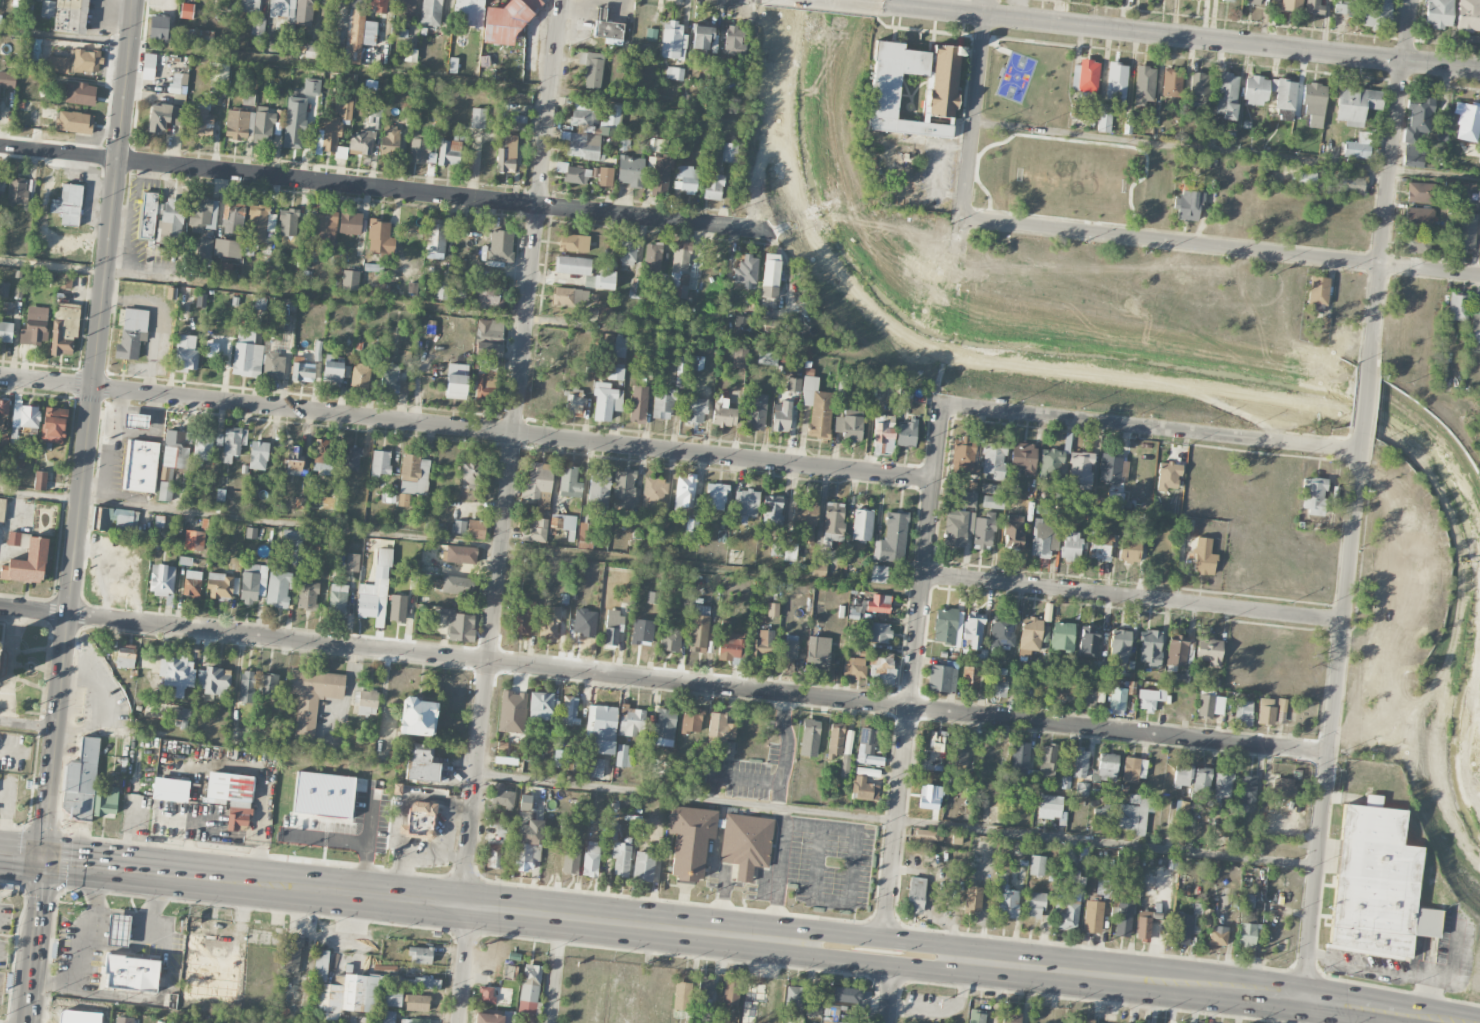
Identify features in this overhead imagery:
road: (861, 2)
building: (1253, 2)
building: (19, 3)
building: (356, 4)
building: (1291, 5)
building: (251, 6)
building: (377, 6)
building: (1314, 7)
building: (1345, 7)
building: (47, 8)
building: (405, 8)
road: (986, 8)
building: (282, 9)
building: (187, 11)
building: (431, 12)
building: (1439, 13)
building: (467, 14)
gas station: (601, 14)
building: (602, 14)
building: (1378, 14)
building: (70, 16)
building: (1468, 16)
building: (506, 24)
building: (258, 26)
building: (158, 28)
building: (609, 32)
building: (357, 34)
building: (652, 34)
building: (199, 37)
building: (702, 37)
road: (1182, 37)
building: (733, 40)
building: (673, 41)
road: (995, 45)
building: (311, 51)
building: (410, 55)
building: (86, 61)
building: (57, 64)
building: (149, 66)
building: (593, 70)
road: (371, 71)
building: (675, 73)
park: (1015, 76)
building: (1085, 76)
building: (7, 79)
building: (1116, 82)
building: (1171, 83)
building: (1144, 85)
building: (250, 86)
building: (311, 87)
building: (1199, 89)
building: (941, 90)
building: (1256, 90)
building: (80, 93)
building: (1226, 95)
building: (1285, 95)
building: (1314, 103)
building: (1355, 105)
building: (375, 110)
building: (585, 115)
building: (613, 115)
building: (163, 117)
building: (1104, 117)
building: (478, 118)
building: (1418, 118)
building: (200, 121)
building: (1467, 121)
building: (74, 122)
building: (294, 122)
building: (250, 125)
building: (333, 127)
road: (972, 135)
building: (361, 142)
building: (390, 142)
building: (623, 143)
road: (1102, 143)
park: (1049, 144)
building: (658, 145)
building: (584, 146)
building: (1359, 146)
road: (1226, 149)
building: (420, 150)
building: (728, 152)
building: (448, 153)
building: (506, 153)
building: (1413, 156)
building: (1479, 156)
road: (976, 165)
building: (630, 171)
building: (573, 173)
building: (660, 174)
parking lot: (937, 174)
building: (605, 177)
park: (1069, 178)
building: (1306, 178)
building: (686, 179)
building: (2, 183)
building: (1451, 183)
building: (1350, 184)
building: (713, 186)
road: (1391, 186)
road: (382, 188)
building: (17, 191)
building: (1420, 192)
road: (987, 194)
building: (67, 205)
building: (1188, 207)
building: (202, 214)
building: (147, 216)
building: (232, 217)
building: (1419, 217)
building: (170, 219)
building: (288, 222)
building: (260, 223)
building: (350, 223)
building: (323, 229)
building: (1465, 231)
building: (380, 239)
building: (435, 241)
building: (574, 243)
building: (1414, 243)
road: (1220, 247)
building: (204, 248)
building: (227, 248)
building: (500, 248)
building: (627, 253)
building: (652, 256)
building: (573, 265)
building: (226, 269)
building: (680, 270)
building: (746, 272)
building: (770, 276)
building: (350, 280)
building: (605, 280)
building: (65, 281)
building: (3, 289)
building: (379, 290)
building: (1318, 290)
building: (571, 296)
building: (491, 297)
building: (260, 304)
road: (436, 305)
building: (1457, 307)
building: (1315, 308)
building: (604, 313)
building: (1476, 321)
building: (34, 326)
building: (490, 328)
building: (6, 332)
building: (131, 333)
building: (489, 340)
building: (60, 341)
building: (620, 346)
building: (211, 350)
building: (488, 350)
building: (185, 353)
building: (247, 354)
building: (766, 358)
building: (697, 363)
building: (273, 366)
building: (794, 368)
building: (332, 371)
building: (302, 372)
building: (615, 372)
building: (360, 375)
building: (392, 379)
building: (456, 381)
building: (793, 384)
building: (842, 385)
building: (484, 389)
building: (606, 401)
building: (574, 402)
building: (639, 404)
building: (662, 404)
road: (1367, 406)
building: (816, 407)
building: (4, 410)
building: (694, 410)
road: (144, 411)
building: (755, 411)
building: (723, 413)
building: (25, 415)
building: (781, 417)
building: (136, 420)
gas station: (136, 422)
building: (54, 425)
building: (849, 425)
road: (89, 428)
road: (467, 429)
road: (1152, 429)
building: (906, 433)
building: (883, 434)
building: (232, 444)
road: (111, 446)
building: (176, 449)
building: (202, 449)
road: (512, 454)
building: (258, 455)
building: (322, 456)
building: (1022, 458)
building: (351, 459)
building: (293, 461)
building: (380, 463)
building: (1051, 463)
building: (140, 466)
building: (1081, 469)
building: (1110, 469)
building: (469, 471)
building: (414, 475)
building: (1169, 476)
building: (539, 479)
building: (40, 480)
building: (569, 483)
building: (624, 488)
building: (599, 490)
building: (165, 491)
building: (685, 491)
building: (1059, 494)
building: (715, 496)
building: (1314, 496)
building: (388, 497)
building: (968, 499)
building: (403, 500)
building: (1115, 500)
building: (993, 502)
building: (300, 503)
building: (746, 505)
building: (1028, 506)
building: (3, 509)
building: (771, 510)
building: (804, 512)
building: (115, 521)
building: (833, 523)
building: (564, 524)
building: (862, 525)
building: (957, 527)
building: (691, 528)
building: (476, 529)
building: (535, 531)
building: (1013, 531)
building: (983, 532)
building: (251, 533)
building: (585, 535)
building: (1044, 537)
building: (14, 538)
building: (892, 539)
building: (194, 540)
road: (461, 541)
building: (313, 544)
building: (1071, 546)
building: (1100, 546)
building: (776, 548)
building: (1129, 549)
building: (790, 551)
building: (460, 554)
building: (1203, 557)
building: (352, 562)
building: (28, 563)
building: (414, 568)
building: (878, 574)
building: (162, 581)
building: (252, 582)
building: (192, 584)
building: (454, 585)
building: (223, 586)
building: (278, 587)
building: (375, 591)
building: (307, 595)
building: (653, 595)
building: (337, 599)
road: (1134, 599)
building: (879, 604)
building: (398, 608)
road: (34, 609)
building: (772, 609)
building: (857, 613)
building: (522, 619)
building: (585, 622)
building: (549, 623)
building: (459, 625)
building: (945, 626)
building: (612, 627)
building: (974, 629)
building: (699, 630)
building: (1003, 631)
building: (642, 632)
building: (876, 633)
building: (1030, 636)
building: (1062, 637)
building: (670, 640)
building: (1088, 641)
building: (0, 643)
building: (762, 645)
building: (1119, 645)
building: (731, 646)
building: (1150, 648)
building: (787, 649)
building: (818, 651)
building: (1209, 652)
building: (1176, 653)
building: (125, 659)
building: (854, 667)
building: (881, 669)
building: (177, 673)
road: (914, 673)
building: (942, 679)
building: (971, 679)
building: (215, 682)
building: (998, 682)
building: (269, 685)
road: (699, 685)
building: (246, 686)
building: (1028, 689)
building: (1063, 690)
building: (312, 697)
building: (1087, 698)
building: (1149, 699)
building: (1117, 701)
building: (367, 702)
building: (1209, 706)
building: (542, 707)
building: (569, 710)
building: (1281, 710)
building: (1266, 711)
building: (512, 712)
building: (180, 713)
building: (1243, 713)
building: (417, 717)
road: (1333, 720)
building: (632, 721)
building: (691, 721)
road: (28, 725)
building: (664, 727)
building: (601, 729)
building: (719, 730)
building: (809, 738)
building: (835, 740)
building: (866, 741)
building: (938, 741)
building: (545, 747)
building: (963, 747)
building: (729, 750)
building: (1020, 754)
building: (623, 756)
building: (561, 758)
building: (868, 759)
building: (989, 759)
building: (1048, 760)
building: (577, 763)
building: (845, 763)
building: (1080, 763)
building: (421, 764)
building: (1107, 766)
building: (593, 767)
building: (1132, 769)
building: (1031, 776)
building: (1182, 776)
road: (735, 777)
building: (1202, 780)
building: (82, 782)
building: (1283, 787)
building: (1082, 788)
building: (1222, 788)
building: (1247, 788)
building: (863, 789)
building: (170, 790)
road: (411, 794)
building: (231, 797)
building: (503, 797)
building: (106, 801)
building: (525, 802)
building: (340, 804)
road: (462, 807)
building: (1051, 808)
building: (1181, 809)
building: (1135, 813)
building: (1100, 814)
road: (782, 815)
building: (421, 818)
road: (897, 822)
building: (501, 829)
building: (612, 831)
building: (926, 835)
building: (690, 840)
building: (746, 844)
building: (528, 845)
road: (425, 852)
building: (494, 854)
traffic signals: (43, 858)
road: (44, 858)
building: (591, 858)
building: (621, 859)
building: (570, 862)
building: (1037, 865)
building: (643, 866)
road: (128, 868)
building: (1076, 880)
road: (851, 882)
building: (1377, 883)
road: (92, 885)
building: (1104, 889)
road: (159, 893)
building: (915, 895)
building: (972, 899)
building: (1006, 901)
building: (1247, 903)
building: (1034, 904)
road: (485, 910)
building: (1066, 915)
building: (1092, 917)
building: (1122, 919)
building: (1143, 925)
building: (1183, 929)
building: (118, 930)
building: (1246, 935)
building: (1218, 936)
road: (879, 938)
road: (35, 940)
building: (421, 954)
building: (291, 955)
road: (876, 960)
building: (321, 965)
road: (460, 965)
road: (1367, 968)
road: (554, 970)
building: (131, 973)
road: (1447, 981)
building: (424, 983)
road: (59, 986)
road: (1188, 988)
building: (529, 989)
building: (704, 991)
building: (731, 992)
road: (886, 992)
building: (486, 994)
building: (845, 995)
building: (346, 996)
building: (391, 996)
building: (681, 996)
building: (793, 997)
road: (133, 998)
building: (417, 1003)
building: (813, 1007)
road: (136, 1011)
road: (945, 1011)
road: (1318, 1014)
building: (976, 1016)
building: (78, 1017)
building: (388, 1017)
building: (1012, 1017)
building: (494, 1018)
building: (752, 1018)
building: (353, 1019)
building: (125, 1020)
building: (414, 1020)
building: (1082, 1021)
road: (1429, 1021)
building: (840, 1022)
road: (1429, 1022)

